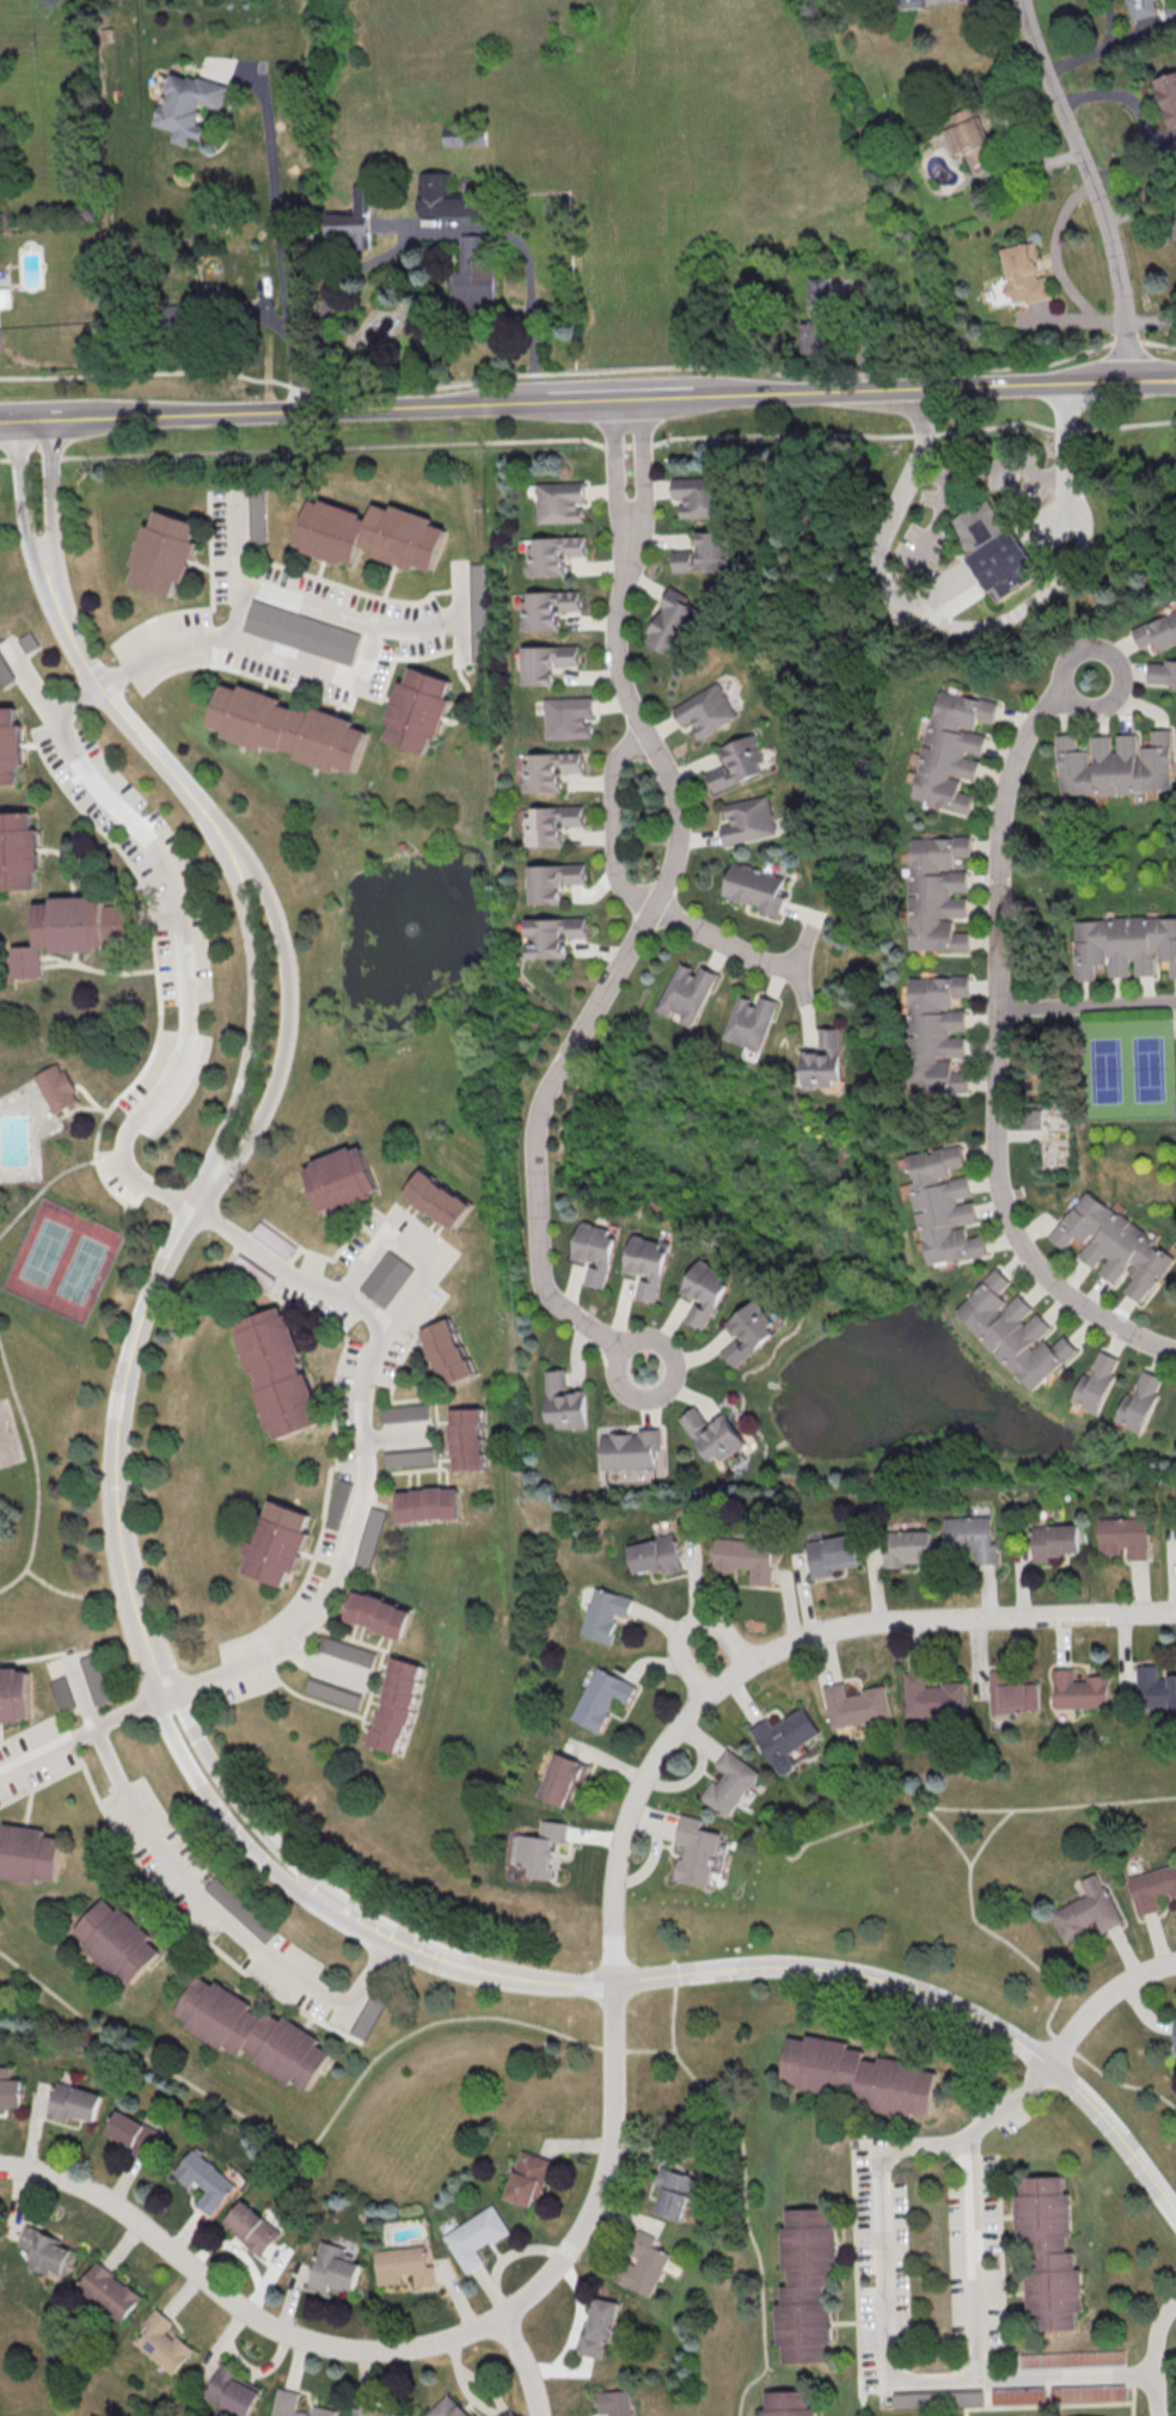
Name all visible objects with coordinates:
building: (912, 2)
building: (1139, 8)
road: (1094, 49)
building: (1168, 97)
building: (189, 104)
building: (463, 135)
building: (967, 136)
road: (1094, 186)
building: (446, 198)
road: (277, 219)
building: (350, 223)
road: (1058, 266)
building: (477, 275)
building: (1022, 276)
building: (819, 292)
building: (5, 296)
road: (528, 314)
building: (816, 336)
road: (1125, 342)
road: (1157, 343)
road: (556, 372)
road: (587, 398)
road: (589, 441)
road: (642, 464)
road: (613, 465)
road: (49, 490)
road: (22, 491)
building: (697, 496)
building: (559, 501)
building: (257, 519)
building: (368, 533)
road: (239, 539)
building: (999, 550)
building: (704, 553)
building: (165, 554)
building: (552, 554)
building: (546, 608)
building: (673, 624)
road: (970, 627)
building: (300, 631)
building: (1158, 632)
building: (29, 642)
building: (546, 661)
road: (1116, 663)
road: (323, 669)
building: (1162, 670)
building: (5, 673)
road: (106, 694)
building: (705, 710)
building: (419, 711)
building: (568, 717)
building: (286, 728)
building: (12, 747)
building: (951, 749)
building: (737, 762)
building: (1115, 765)
building: (549, 771)
building: (748, 818)
road: (678, 820)
building: (551, 823)
building: (19, 852)
building: (553, 881)
building: (755, 888)
building: (936, 893)
building: (74, 931)
building: (556, 934)
road: (183, 943)
road: (729, 943)
building: (1125, 944)
road: (629, 945)
road: (251, 992)
building: (688, 992)
road: (293, 993)
road: (1086, 1005)
building: (751, 1020)
building: (937, 1034)
road: (997, 1054)
building: (825, 1060)
road: (141, 1065)
park: (1126, 1069)
building: (59, 1087)
road: (87, 1096)
road: (79, 1108)
building: (1033, 1117)
parking lot: (118, 1176)
road: (51, 1178)
building: (343, 1181)
building: (436, 1198)
building: (944, 1206)
road: (122, 1216)
building: (274, 1239)
road: (412, 1244)
building: (1114, 1244)
building: (595, 1251)
park: (65, 1259)
building: (647, 1265)
building: (255, 1271)
building: (386, 1278)
building: (705, 1292)
park: (65, 1299)
building: (749, 1331)
building: (1013, 1331)
road: (620, 1347)
building: (446, 1351)
building: (277, 1372)
building: (1097, 1380)
building: (564, 1402)
building: (1140, 1402)
building: (404, 1411)
building: (713, 1434)
building: (467, 1437)
building: (630, 1448)
building: (409, 1458)
road: (35, 1472)
road: (359, 1480)
building: (339, 1503)
building: (428, 1504)
building: (370, 1537)
building: (973, 1537)
building: (1125, 1537)
building: (1056, 1541)
building: (280, 1545)
building: (906, 1546)
building: (654, 1555)
building: (833, 1555)
building: (745, 1557)
road: (73, 1594)
building: (605, 1612)
building: (378, 1613)
road: (690, 1625)
building: (348, 1650)
building: (93, 1679)
building: (1154, 1688)
building: (1079, 1690)
building: (1011, 1692)
building: (13, 1693)
building: (62, 1693)
building: (333, 1693)
building: (601, 1697)
building: (931, 1697)
building: (397, 1705)
building: (855, 1705)
building: (784, 1739)
building: (562, 1779)
building: (730, 1783)
building: (0, 1804)
road: (987, 1809)
road: (988, 1832)
building: (538, 1850)
building: (697, 1851)
road: (783, 1853)
building: (29, 1857)
road: (185, 1883)
building: (215, 1887)
building: (1152, 1888)
building: (1088, 1909)
road: (391, 1938)
building: (120, 1943)
road: (1042, 1972)
road: (1102, 1998)
road: (670, 2005)
building: (367, 2016)
road: (480, 2018)
building: (1175, 2032)
building: (256, 2034)
road: (611, 2046)
building: (863, 2077)
building: (10, 2091)
building: (75, 2103)
park: (496, 2111)
building: (133, 2133)
building: (529, 2178)
building: (207, 2181)
building: (674, 2193)
building: (252, 2227)
building: (477, 2237)
building: (49, 2251)
building: (1046, 2252)
road: (972, 2263)
building: (405, 2265)
building: (647, 2265)
building: (335, 2269)
building: (802, 2285)
building: (110, 2291)
road: (877, 2300)
building: (600, 2326)
road: (577, 2331)
building: (164, 2341)
road: (1153, 2354)
park: (62, 2362)
road: (522, 2363)
building: (232, 2391)
building: (1016, 2394)
building: (937, 2398)
building: (612, 2402)
building: (792, 2404)
building: (293, 2405)
building: (448, 2408)
building: (361, 2410)
building: (397, 2414)

